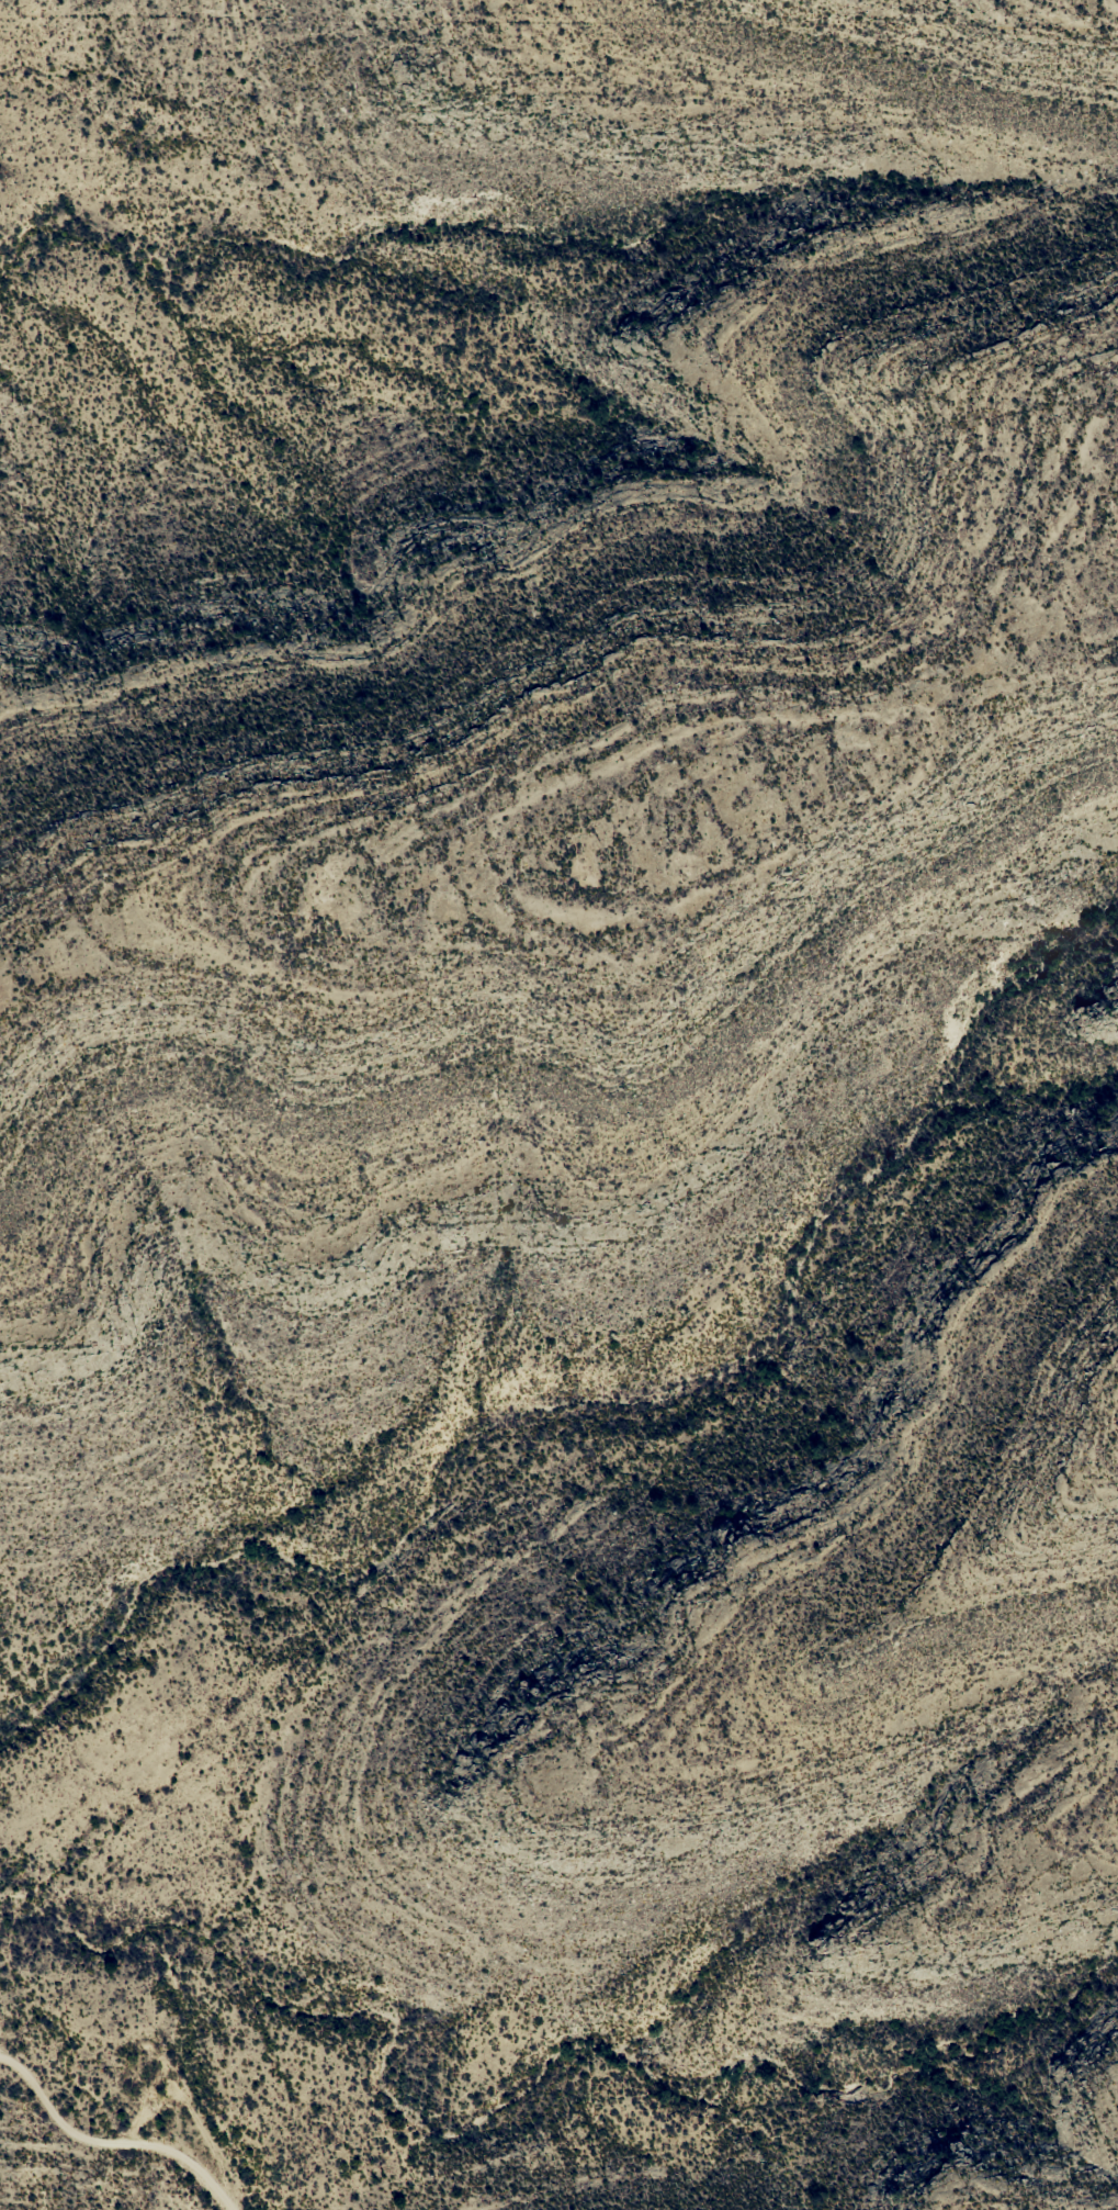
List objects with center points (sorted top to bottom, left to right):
road: (111, 2140)

